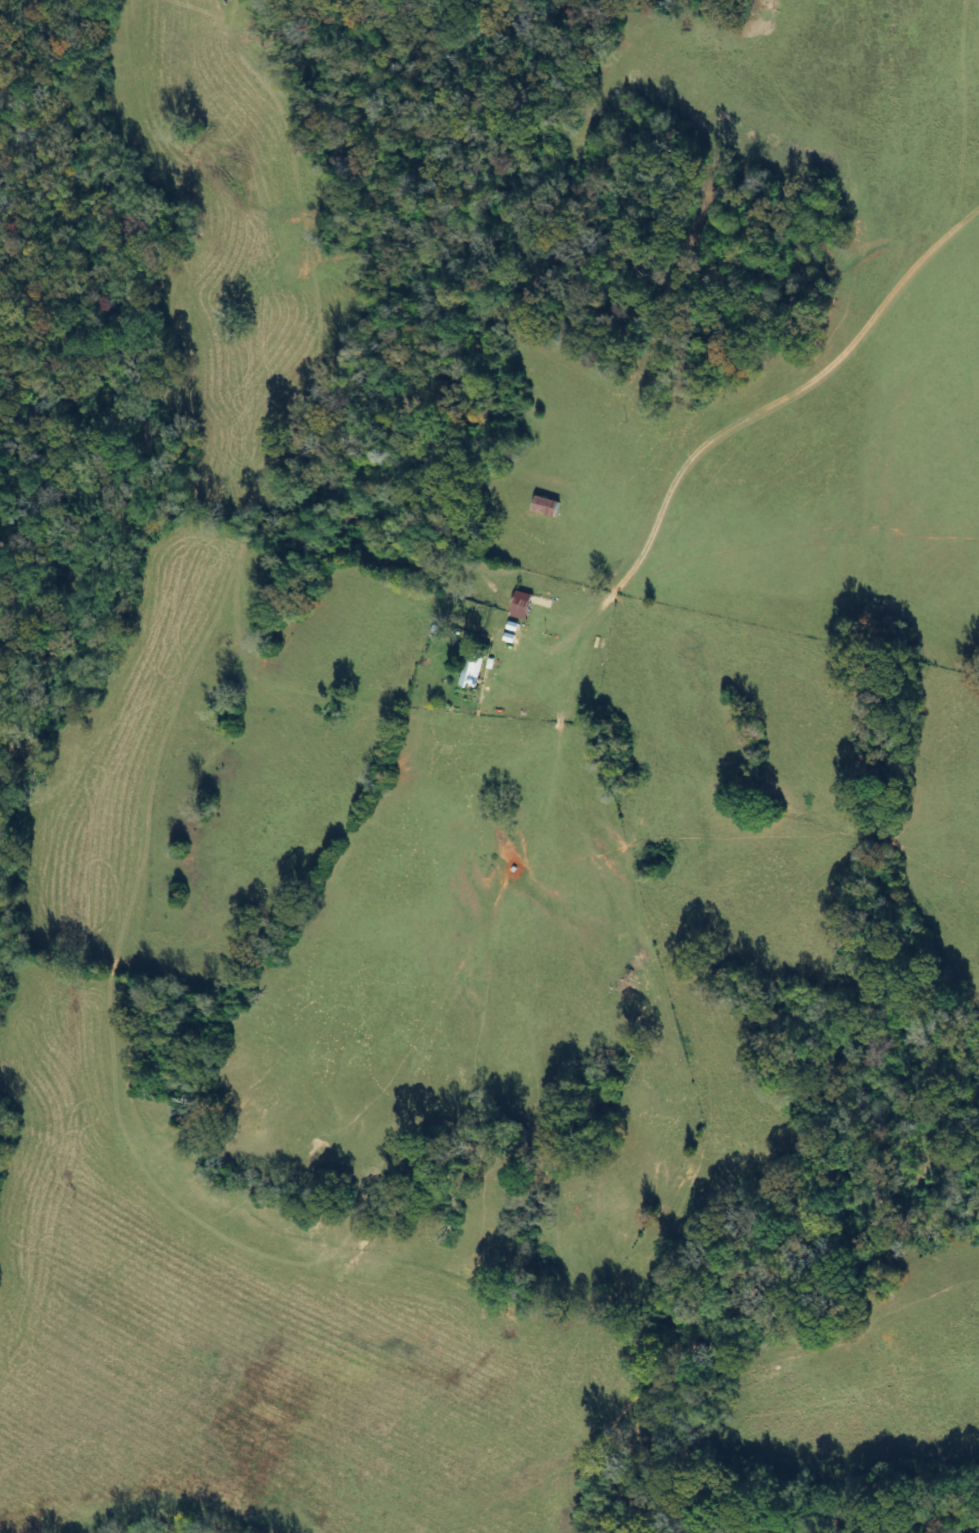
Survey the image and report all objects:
road: (728, 375)
building: (541, 508)

